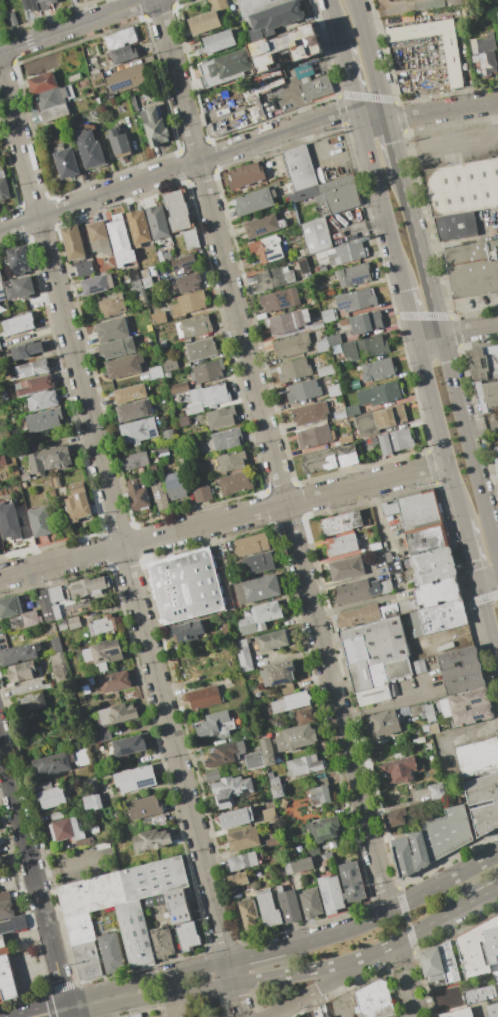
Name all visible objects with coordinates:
park: (390, 0)
building: (47, 1)
park: (473, 2)
building: (30, 4)
building: (255, 5)
park: (416, 6)
building: (497, 14)
building: (12, 18)
building: (207, 18)
building: (273, 19)
road: (335, 21)
road: (78, 26)
building: (121, 38)
building: (219, 41)
building: (288, 42)
building: (485, 52)
building: (123, 54)
road: (369, 58)
building: (453, 65)
building: (225, 67)
building: (407, 74)
building: (127, 78)
road: (349, 78)
building: (97, 80)
building: (42, 82)
building: (316, 87)
building: (250, 95)
building: (54, 97)
building: (133, 103)
road: (294, 105)
road: (441, 110)
building: (54, 112)
building: (257, 113)
road: (371, 115)
building: (154, 126)
building: (118, 142)
road: (391, 143)
road: (461, 143)
parking lot: (456, 146)
building: (89, 149)
building: (66, 163)
road: (179, 170)
building: (245, 175)
building: (306, 176)
building: (3, 187)
building: (461, 196)
building: (341, 197)
building: (320, 198)
road: (381, 200)
building: (253, 202)
building: (176, 210)
building: (157, 221)
building: (262, 225)
building: (138, 227)
building: (316, 235)
building: (98, 236)
building: (191, 239)
building: (119, 240)
building: (72, 242)
road: (447, 242)
building: (267, 248)
building: (346, 253)
building: (19, 259)
building: (183, 264)
building: (303, 265)
building: (84, 268)
building: (472, 269)
building: (144, 273)
building: (133, 275)
building: (353, 275)
building: (0, 279)
building: (273, 279)
building: (147, 281)
building: (189, 282)
building: (96, 284)
building: (19, 288)
building: (328, 290)
building: (2, 293)
building: (279, 299)
building: (358, 299)
building: (189, 302)
building: (112, 305)
road: (410, 313)
building: (328, 315)
building: (145, 317)
building: (158, 318)
building: (287, 321)
building: (366, 322)
building: (18, 323)
building: (195, 325)
building: (317, 325)
building: (112, 329)
road: (469, 331)
road: (428, 338)
building: (334, 339)
building: (291, 345)
building: (322, 346)
building: (0, 348)
building: (117, 348)
building: (336, 348)
building: (365, 348)
building: (201, 349)
building: (26, 350)
building: (169, 364)
road: (447, 365)
building: (122, 366)
building: (33, 368)
building: (293, 369)
building: (377, 369)
building: (325, 370)
building: (208, 371)
building: (156, 373)
building: (484, 376)
building: (34, 384)
building: (178, 387)
building: (302, 391)
building: (130, 393)
building: (334, 393)
building: (380, 393)
building: (3, 395)
building: (210, 395)
building: (42, 400)
building: (196, 408)
building: (134, 410)
building: (352, 410)
building: (311, 412)
building: (340, 414)
building: (221, 417)
building: (44, 420)
building: (379, 420)
building: (182, 421)
road: (481, 427)
road: (439, 430)
building: (138, 431)
building: (167, 435)
building: (314, 435)
building: (345, 438)
building: (226, 439)
building: (401, 439)
building: (385, 444)
building: (347, 455)
road: (268, 457)
building: (50, 459)
building: (320, 459)
building: (2, 460)
building: (134, 460)
building: (496, 460)
building: (231, 461)
building: (152, 469)
building: (25, 477)
building: (235, 483)
building: (175, 485)
building: (202, 493)
building: (137, 494)
building: (159, 495)
building: (77, 501)
building: (415, 511)
road: (224, 520)
building: (39, 521)
building: (341, 523)
building: (9, 525)
road: (121, 536)
building: (426, 540)
road: (495, 541)
building: (251, 544)
building: (341, 545)
building: (374, 546)
road: (471, 552)
building: (256, 563)
building: (432, 565)
building: (394, 567)
building: (346, 568)
road: (488, 580)
building: (90, 586)
building: (186, 586)
building: (386, 586)
building: (258, 589)
building: (354, 590)
building: (438, 591)
building: (55, 593)
building: (45, 605)
building: (8, 606)
building: (56, 611)
building: (389, 611)
building: (358, 615)
building: (442, 616)
building: (259, 617)
building: (31, 618)
road: (488, 619)
building: (73, 621)
building: (61, 625)
building: (102, 625)
building: (188, 630)
building: (272, 641)
building: (55, 646)
building: (20, 653)
building: (375, 653)
building: (102, 654)
building: (242, 654)
building: (457, 657)
building: (418, 667)
building: (59, 669)
building: (22, 671)
building: (281, 673)
building: (463, 678)
building: (94, 680)
building: (114, 681)
building: (28, 688)
building: (373, 696)
building: (203, 697)
building: (32, 700)
building: (291, 701)
road: (392, 701)
building: (470, 706)
building: (406, 711)
building: (431, 712)
building: (116, 714)
building: (304, 715)
building: (383, 723)
building: (217, 724)
building: (433, 728)
building: (100, 736)
building: (295, 737)
building: (265, 745)
building: (129, 746)
building: (224, 754)
building: (81, 757)
building: (478, 757)
building: (254, 758)
building: (269, 759)
building: (52, 763)
building: (304, 765)
building: (399, 769)
building: (212, 775)
building: (135, 778)
building: (90, 785)
building: (44, 786)
road: (6, 787)
building: (230, 790)
building: (321, 790)
building: (436, 790)
building: (51, 797)
building: (92, 802)
building: (494, 804)
building: (144, 807)
building: (56, 816)
building: (236, 817)
building: (394, 817)
building: (324, 828)
building: (65, 829)
building: (446, 832)
building: (152, 839)
building: (243, 839)
building: (82, 842)
building: (272, 842)
building: (410, 852)
building: (242, 861)
road: (70, 863)
building: (302, 864)
building: (287, 868)
road: (34, 877)
building: (237, 879)
building: (351, 881)
road: (443, 883)
building: (331, 894)
road: (483, 894)
building: (5, 895)
building: (159, 899)
building: (148, 902)
building: (311, 902)
building: (290, 906)
building: (6, 909)
building: (122, 909)
building: (268, 910)
building: (248, 914)
road: (406, 918)
road: (433, 921)
road: (29, 932)
building: (188, 936)
building: (162, 942)
road: (380, 948)
building: (480, 950)
building: (110, 952)
building: (431, 962)
road: (38, 968)
road: (197, 969)
road: (299, 972)
building: (6, 974)
building: (451, 974)
road: (406, 978)
road: (318, 990)
building: (480, 994)
road: (338, 998)
road: (145, 999)
building: (374, 1000)
road: (177, 1005)
building: (492, 1010)
building: (458, 1013)
building: (135, 1015)
building: (122, 1016)
building: (126, 1016)
building: (326, 1016)
building: (329, 1016)

